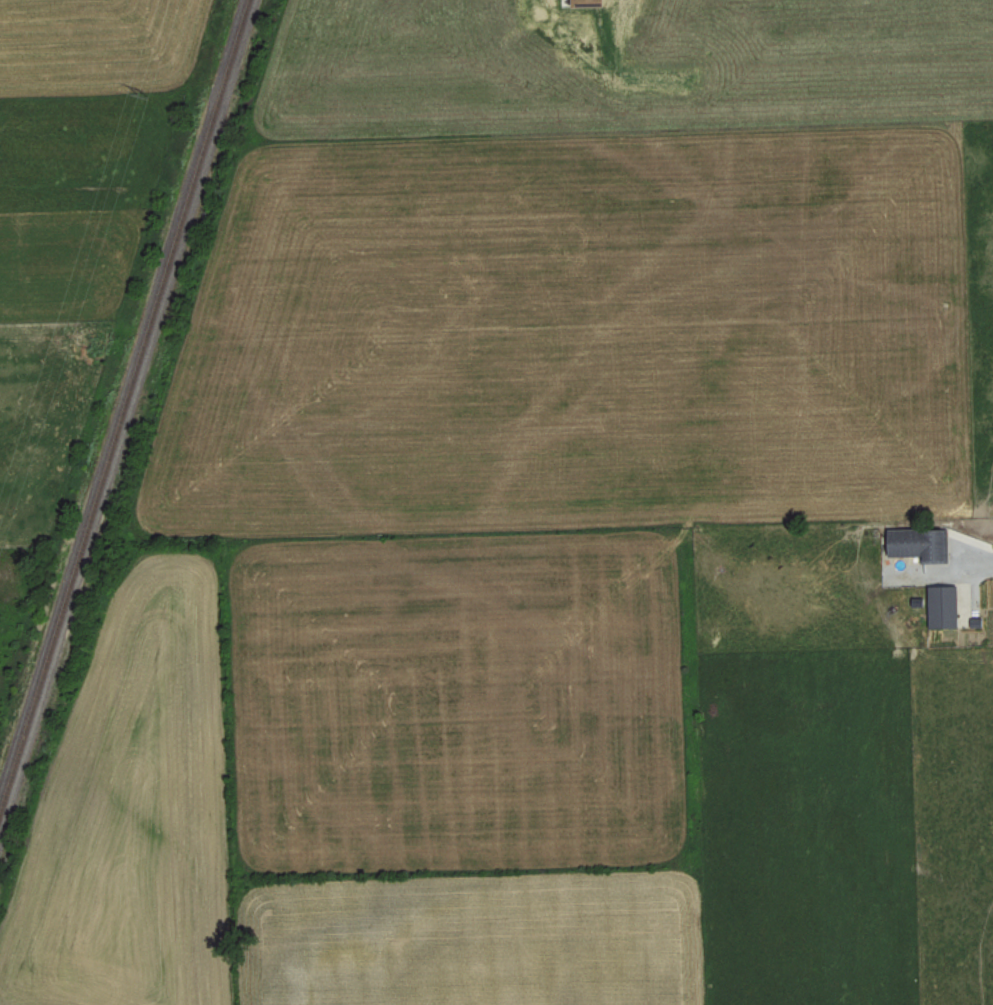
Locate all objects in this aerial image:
building: (589, 2)
power tower: (135, 92)
railway: (119, 394)
building: (923, 542)
road: (964, 570)
building: (946, 606)

